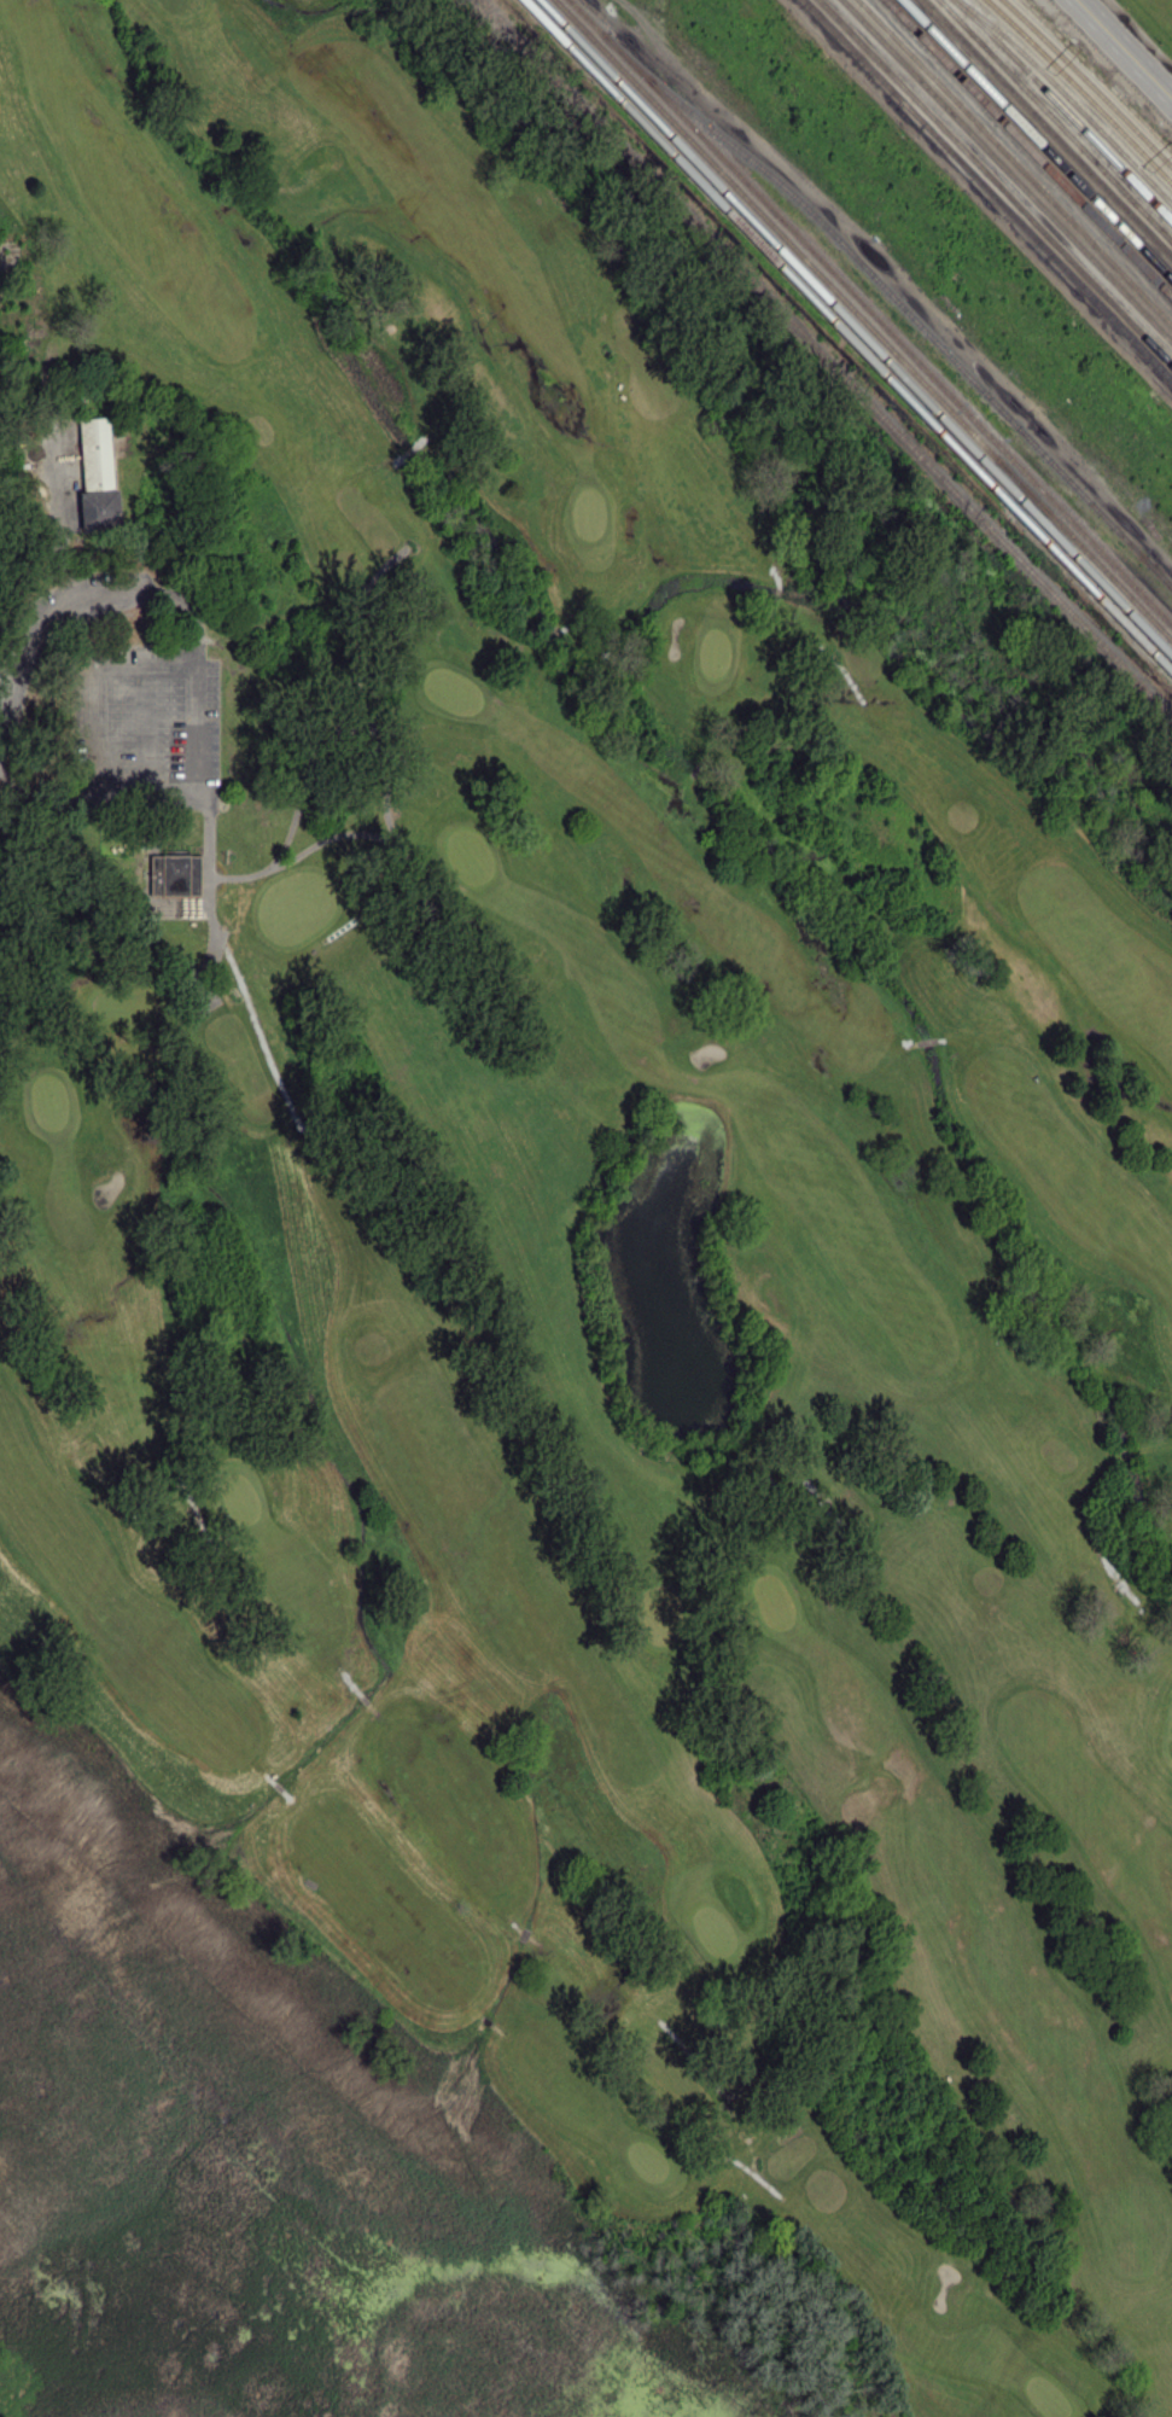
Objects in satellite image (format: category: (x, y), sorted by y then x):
road: (1125, 47)
railway: (1097, 74)
railway: (1088, 82)
railway: (1080, 89)
railway: (1068, 99)
railway: (1063, 107)
railway: (1056, 118)
railway: (1048, 128)
railway: (1037, 139)
railway: (1030, 147)
railway: (1015, 162)
railway: (1007, 170)
railway: (995, 182)
railway: (989, 190)
railway: (820, 291)
railway: (869, 313)
railway: (863, 320)
railway: (847, 334)
railway: (827, 359)
road: (410, 448)
parking lot: (45, 467)
building: (101, 477)
road: (49, 502)
park: (589, 517)
railway: (1049, 522)
road: (775, 575)
railway: (1109, 592)
road: (777, 593)
road: (97, 596)
road: (566, 625)
railway: (1144, 628)
railway: (1144, 633)
road: (547, 634)
road: (524, 645)
road: (816, 645)
park: (716, 656)
park: (454, 692)
road: (343, 707)
parking lot: (141, 727)
road: (349, 729)
road: (145, 732)
road: (386, 769)
road: (196, 797)
road: (302, 852)
park: (468, 854)
building: (177, 875)
road: (177, 908)
road: (243, 989)
road: (941, 1038)
road: (927, 1041)
road: (912, 1043)
park: (49, 1102)
park: (584, 1198)
road: (1125, 1451)
road: (177, 1470)
park: (235, 1487)
road: (839, 1527)
road: (1124, 1584)
park: (774, 1600)
road: (356, 1684)
road: (365, 1694)
road: (373, 1705)
road: (267, 1775)
road: (278, 1786)
road: (287, 1796)
road: (515, 1921)
park: (716, 1928)
road: (526, 1932)
road: (541, 1943)
road: (474, 2013)
road: (485, 2021)
road: (500, 2032)
road: (717, 2083)
road: (728, 2156)
park: (649, 2157)
park: (1049, 2396)

